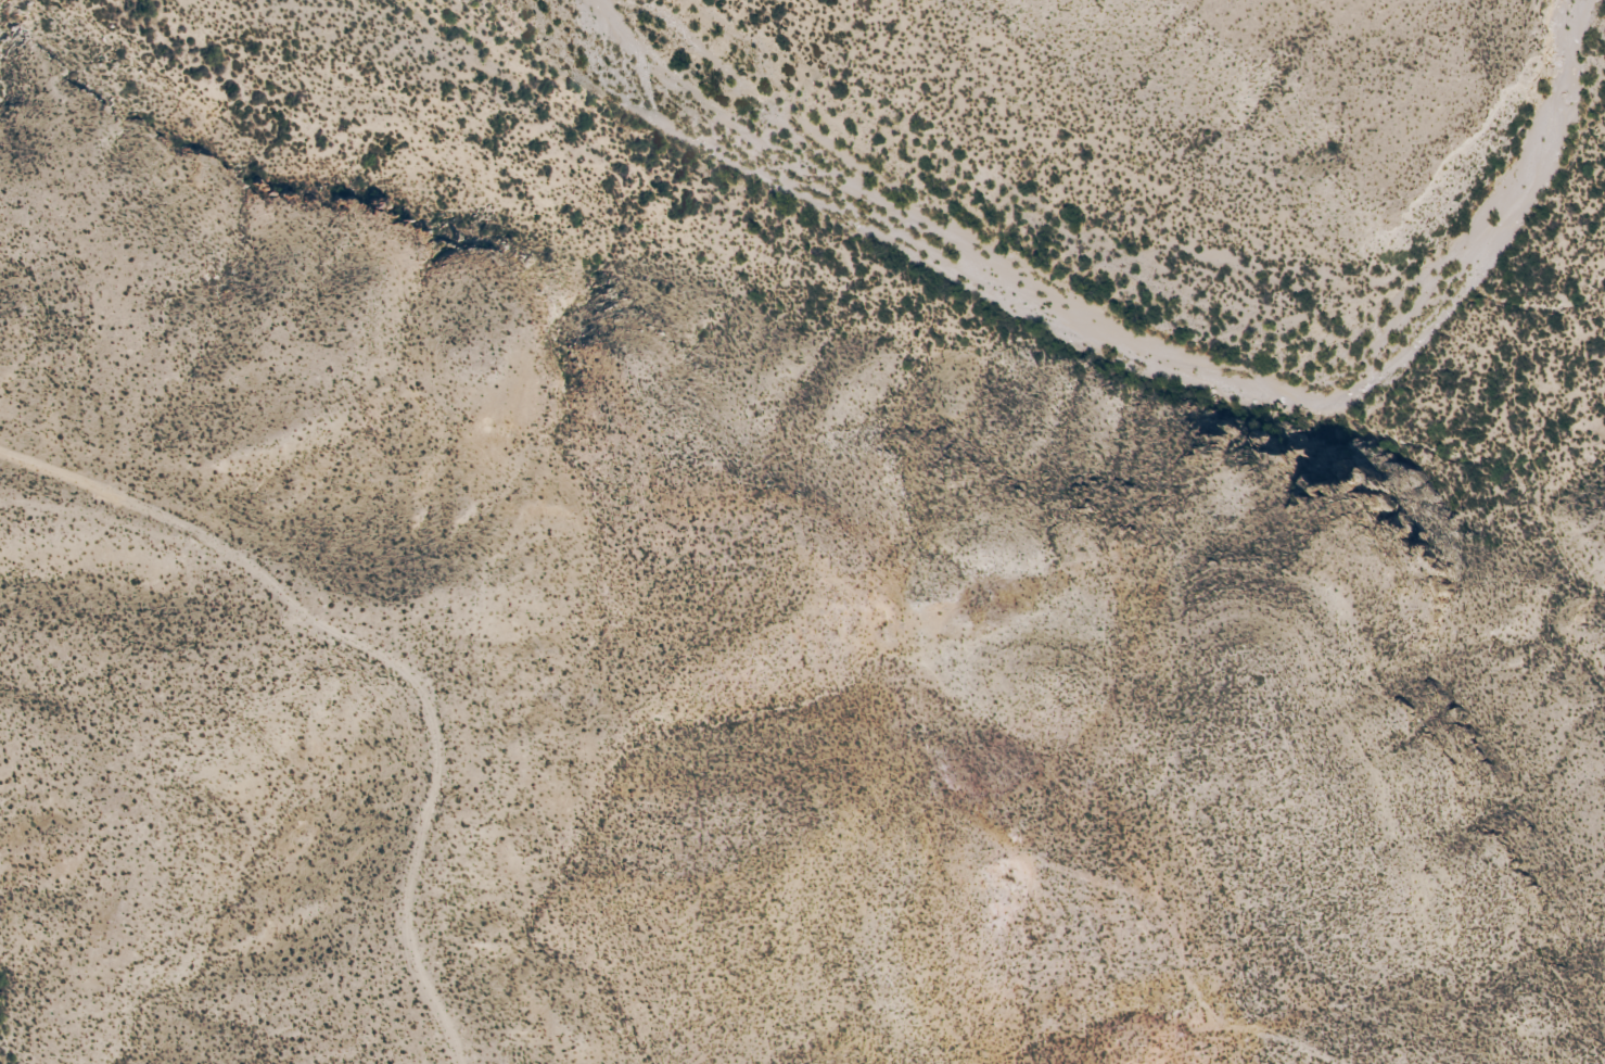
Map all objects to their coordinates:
road: (388, 662)

